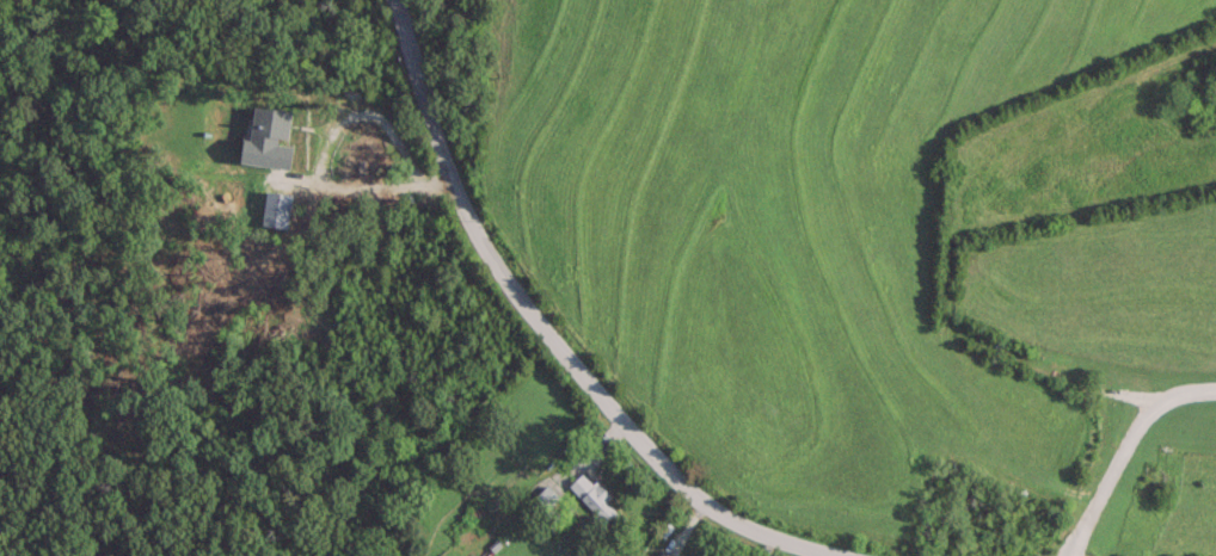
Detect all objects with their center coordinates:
road: (319, 155)
road: (546, 333)
road: (1122, 449)
building: (592, 499)
building: (663, 552)

